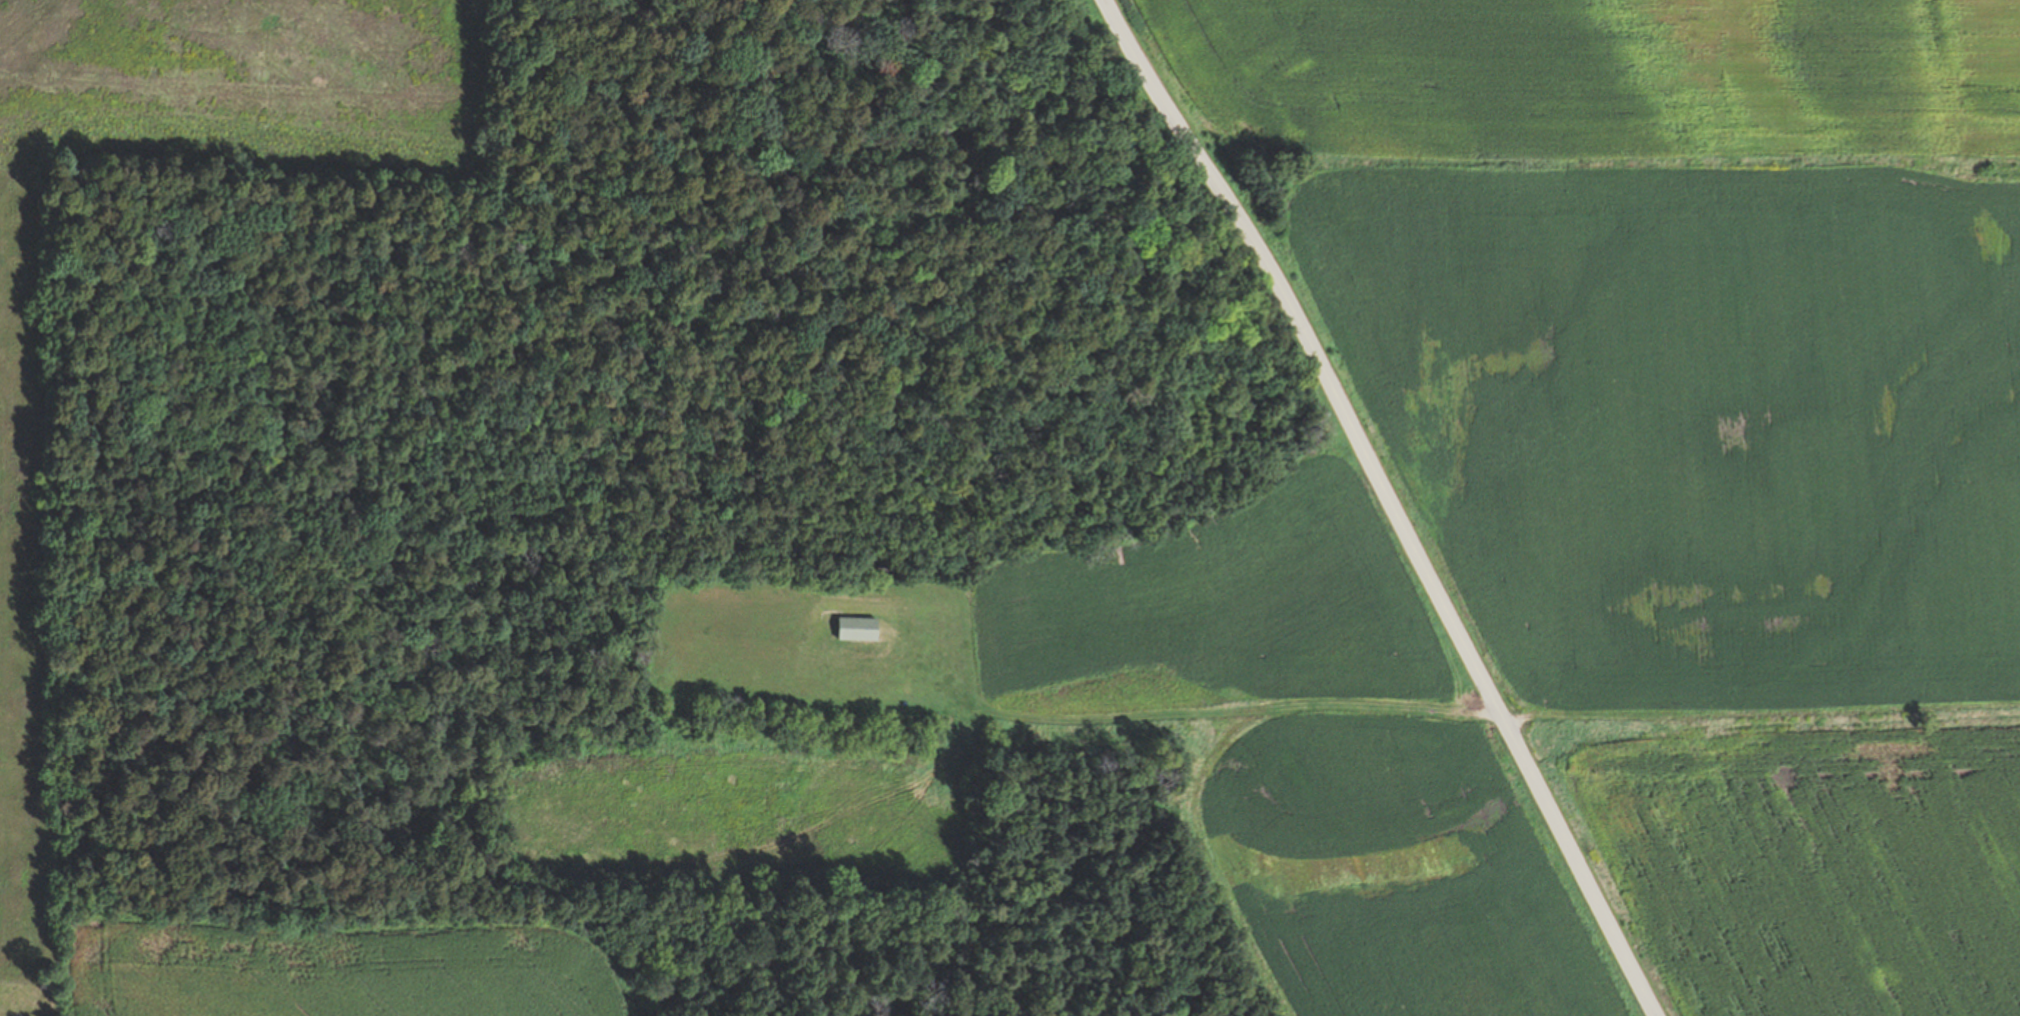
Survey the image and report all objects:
road: (1388, 502)
building: (860, 628)

